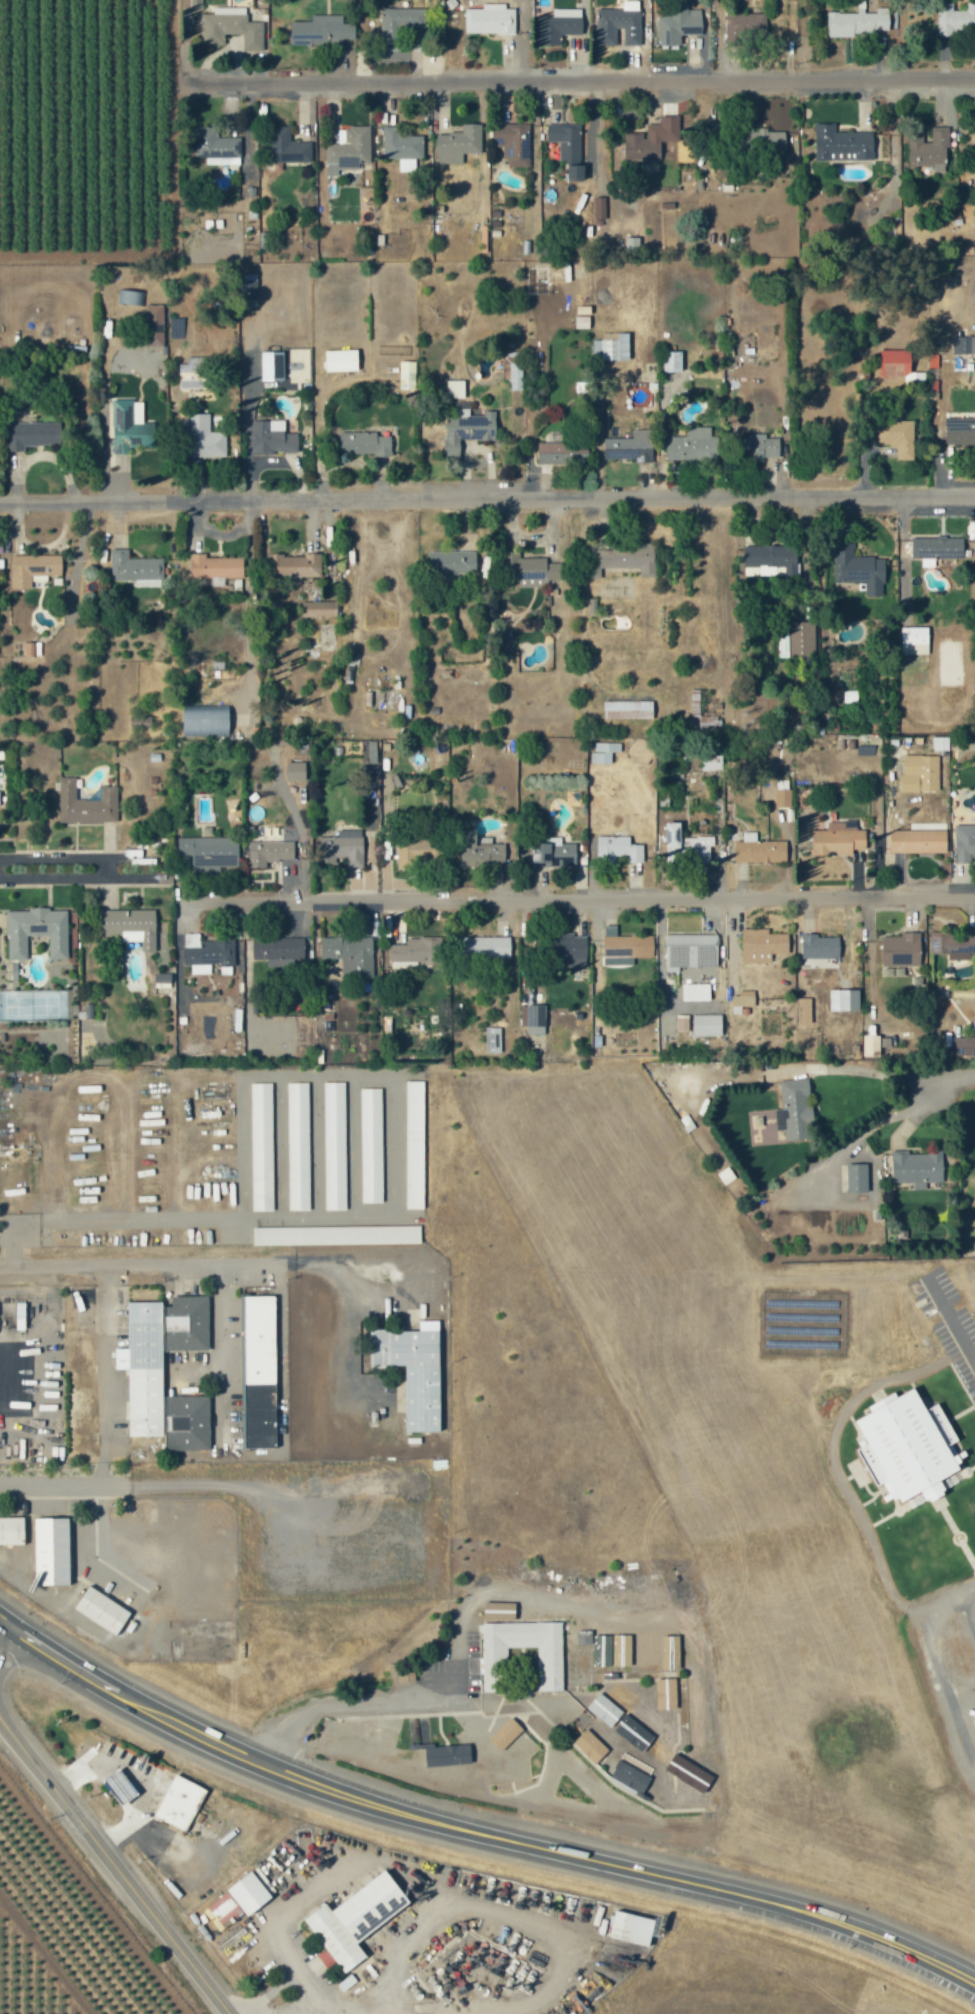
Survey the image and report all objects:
building: (191, 1)
building: (226, 5)
building: (956, 18)
building: (490, 19)
building: (859, 21)
building: (399, 22)
building: (619, 22)
building: (227, 24)
building: (559, 25)
building: (744, 26)
building: (677, 27)
building: (321, 30)
road: (591, 76)
building: (338, 131)
building: (647, 134)
building: (562, 135)
building: (756, 136)
building: (509, 137)
building: (838, 138)
building: (211, 139)
building: (398, 139)
building: (454, 139)
building: (284, 142)
building: (347, 143)
building: (925, 143)
building: (219, 155)
building: (403, 160)
building: (249, 286)
building: (154, 325)
building: (964, 344)
building: (611, 346)
building: (341, 360)
building: (672, 361)
building: (898, 364)
building: (272, 365)
building: (513, 369)
building: (193, 373)
building: (407, 375)
building: (455, 389)
building: (129, 428)
building: (959, 433)
building: (33, 434)
building: (201, 437)
building: (272, 437)
building: (897, 437)
building: (364, 443)
building: (692, 445)
building: (629, 446)
building: (761, 447)
building: (560, 450)
road: (487, 494)
building: (936, 549)
building: (771, 556)
building: (622, 559)
building: (453, 563)
building: (293, 565)
building: (215, 566)
building: (33, 569)
building: (528, 570)
building: (859, 570)
building: (320, 608)
building: (798, 640)
building: (914, 640)
building: (705, 709)
building: (628, 710)
building: (205, 720)
building: (604, 752)
building: (296, 771)
building: (920, 773)
building: (783, 798)
building: (86, 804)
building: (271, 820)
building: (838, 839)
building: (918, 841)
building: (964, 842)
building: (342, 847)
building: (686, 847)
road: (82, 849)
building: (617, 849)
building: (480, 850)
building: (759, 850)
building: (210, 852)
building: (269, 852)
building: (415, 852)
building: (553, 853)
road: (615, 891)
building: (131, 926)
building: (37, 931)
building: (953, 944)
building: (762, 945)
building: (628, 946)
building: (484, 947)
building: (570, 949)
building: (690, 949)
building: (821, 949)
building: (902, 950)
building: (278, 951)
building: (416, 951)
building: (350, 954)
building: (208, 955)
building: (618, 961)
building: (162, 978)
building: (742, 999)
building: (804, 1010)
building: (88, 1011)
building: (533, 1018)
building: (682, 1023)
building: (707, 1025)
building: (492, 1040)
building: (963, 1045)
building: (945, 1047)
road: (854, 1070)
road: (953, 1076)
building: (794, 1110)
building: (371, 1145)
building: (414, 1145)
building: (298, 1146)
building: (334, 1146)
building: (262, 1147)
building: (918, 1168)
building: (857, 1178)
building: (337, 1235)
road: (221, 1259)
road: (952, 1321)
building: (413, 1370)
building: (259, 1371)
building: (145, 1383)
building: (883, 1402)
building: (908, 1449)
road: (57, 1489)
building: (12, 1531)
building: (52, 1552)
building: (102, 1609)
road: (2, 1619)
road: (2, 1626)
building: (584, 1636)
building: (550, 1668)
building: (406, 1675)
road: (937, 1675)
building: (419, 1740)
building: (590, 1745)
building: (448, 1754)
building: (634, 1763)
building: (630, 1776)
building: (119, 1786)
building: (179, 1802)
road: (478, 1829)
road: (114, 1867)
road: (416, 1881)
building: (236, 1901)
building: (355, 1919)
building: (632, 1927)
road: (304, 1986)
road: (253, 2010)

